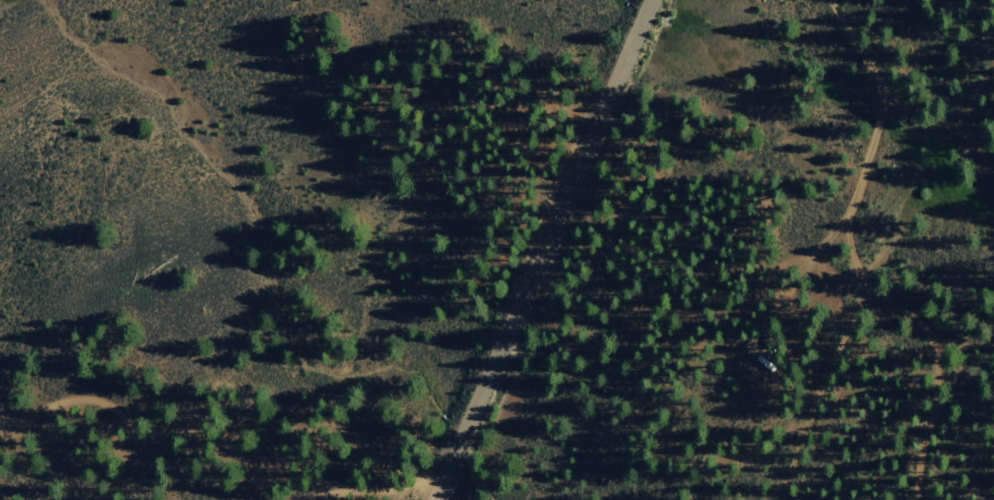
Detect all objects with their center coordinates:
road: (870, 57)
road: (964, 107)
road: (541, 250)
road: (885, 295)
road: (808, 375)

